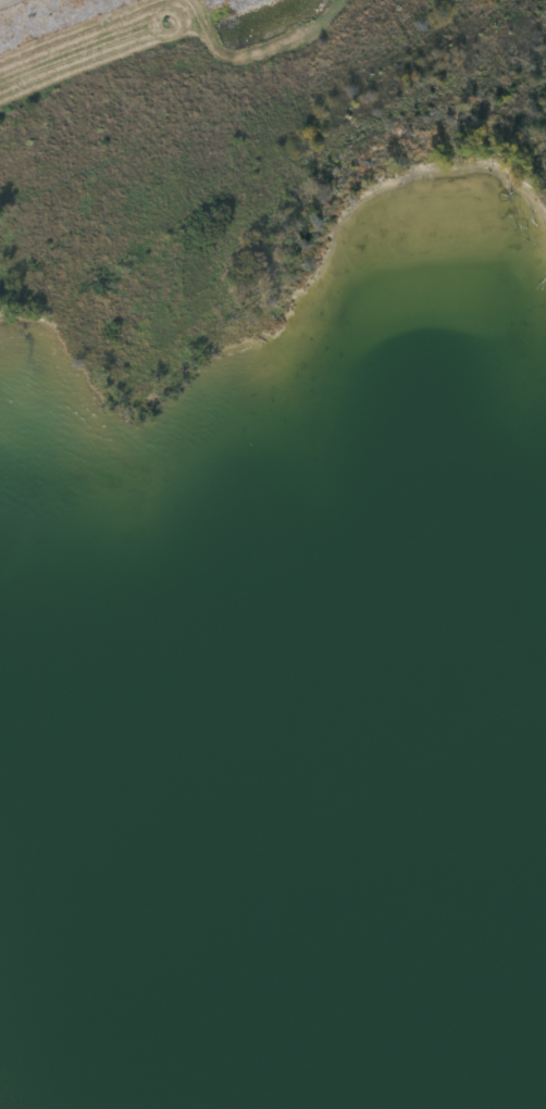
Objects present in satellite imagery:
park: (246, 175)

